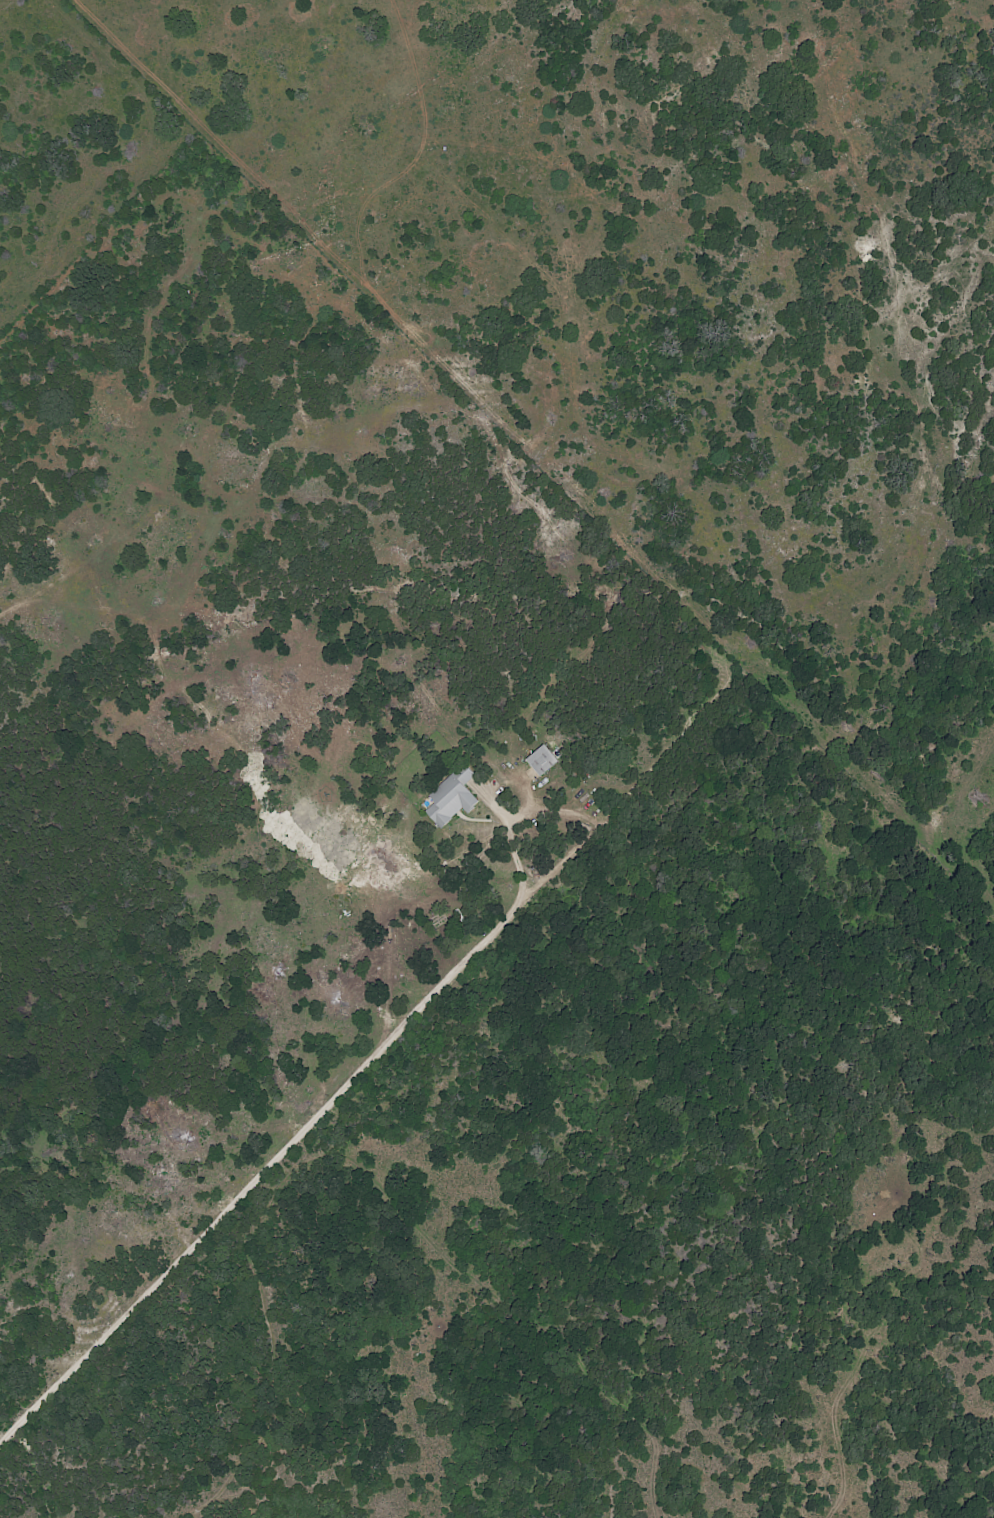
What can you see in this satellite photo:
building: (541, 760)
building: (452, 800)
road: (575, 811)
road: (507, 825)
road: (284, 1146)

